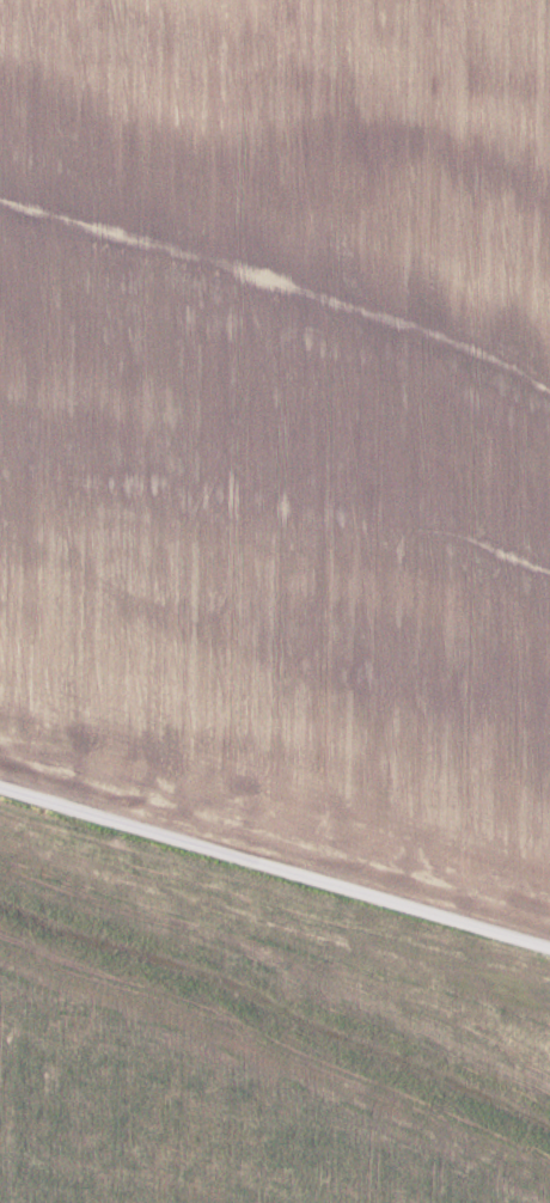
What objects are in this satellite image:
road: (274, 865)

